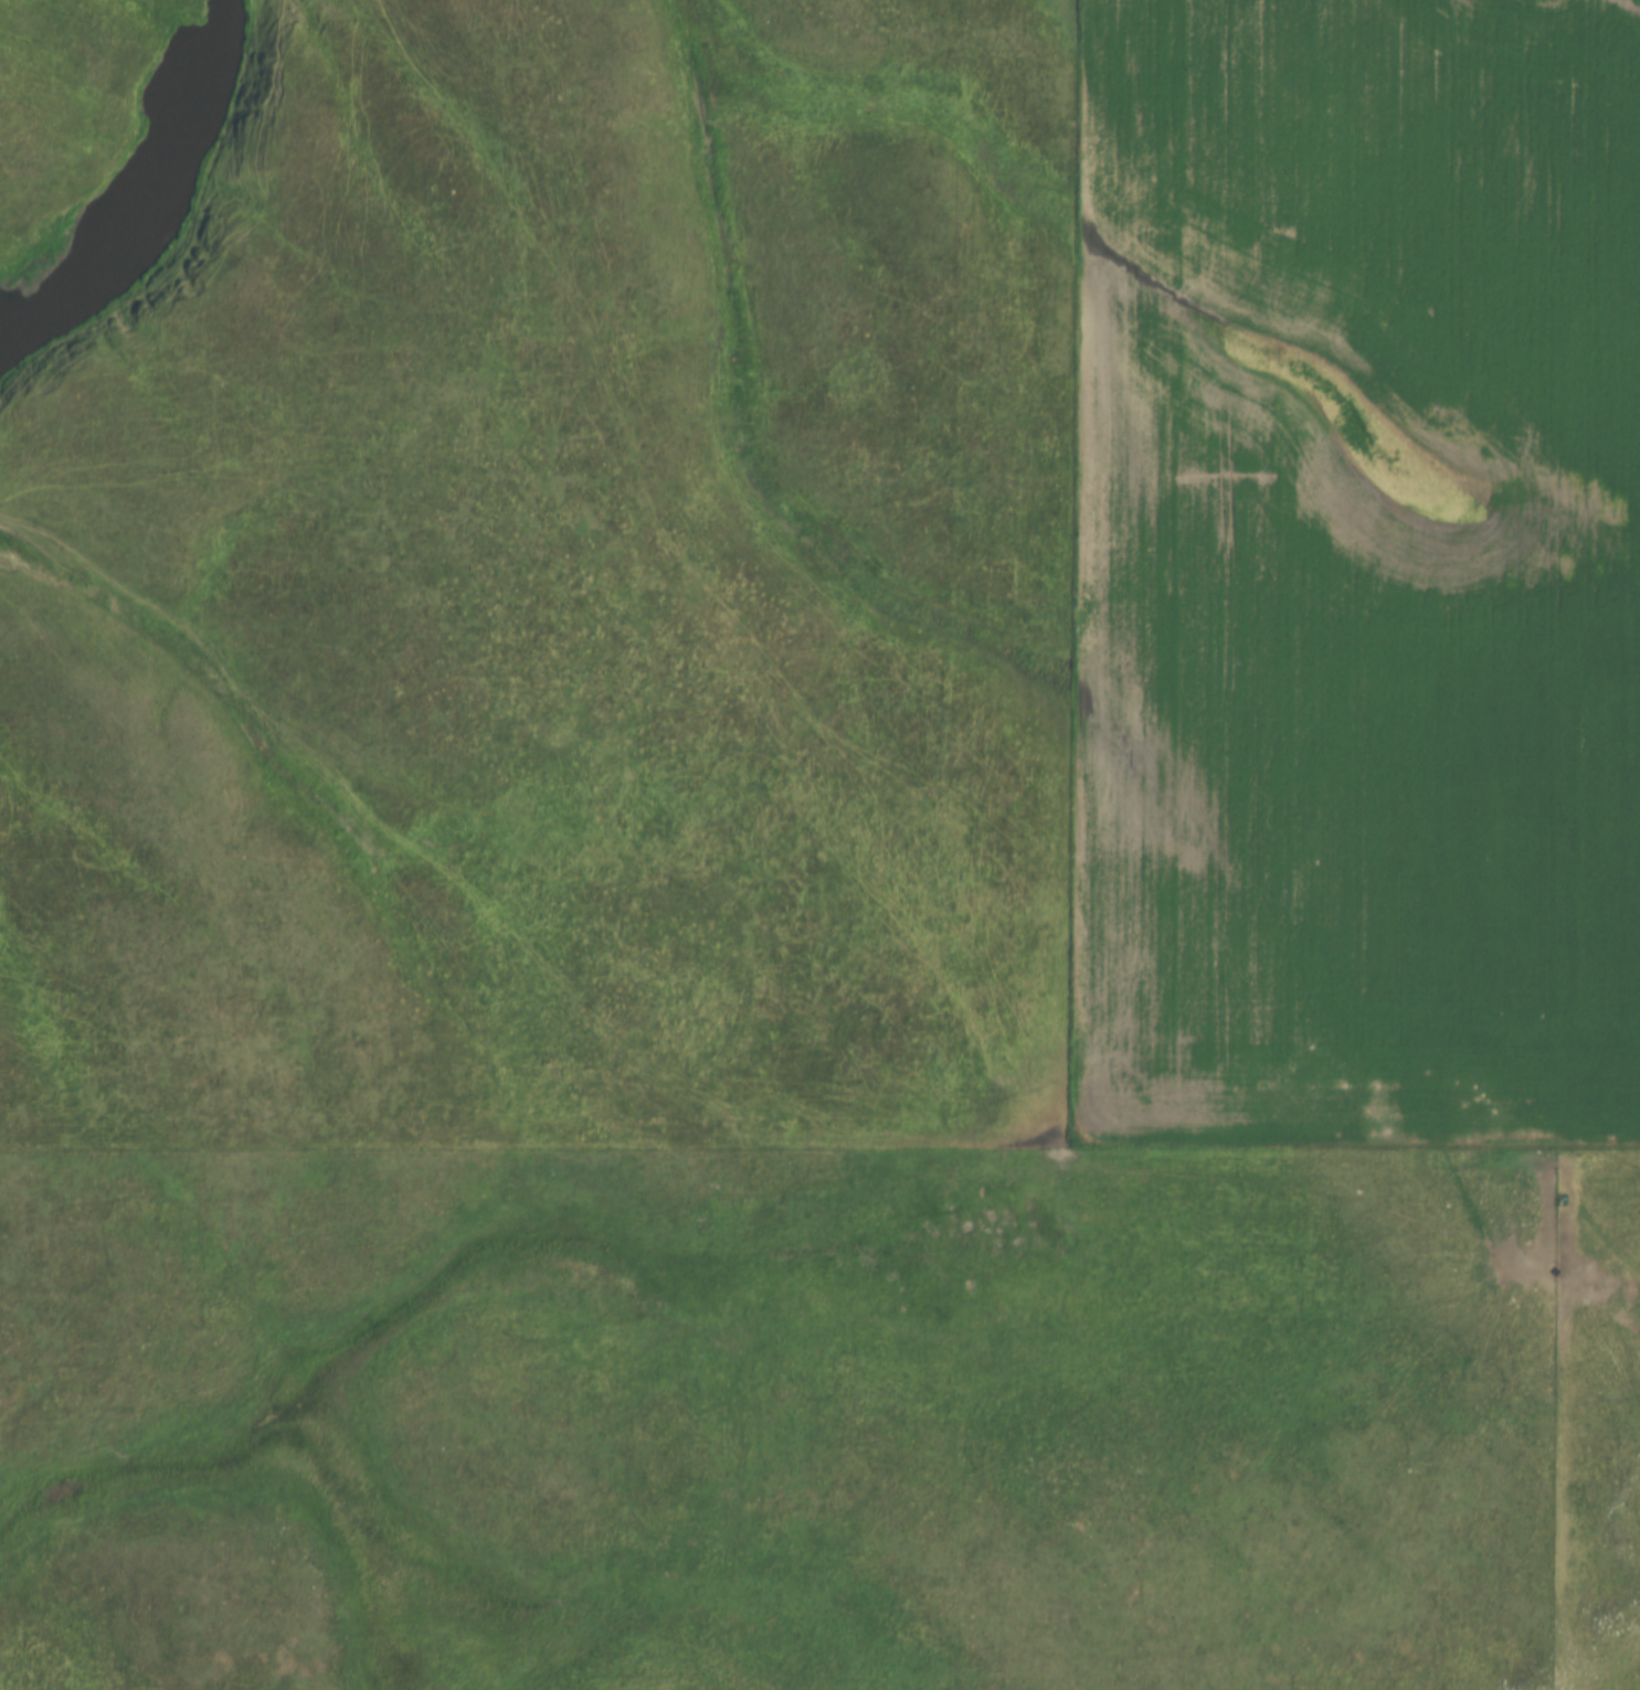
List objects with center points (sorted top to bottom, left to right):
river: (145, 189)

